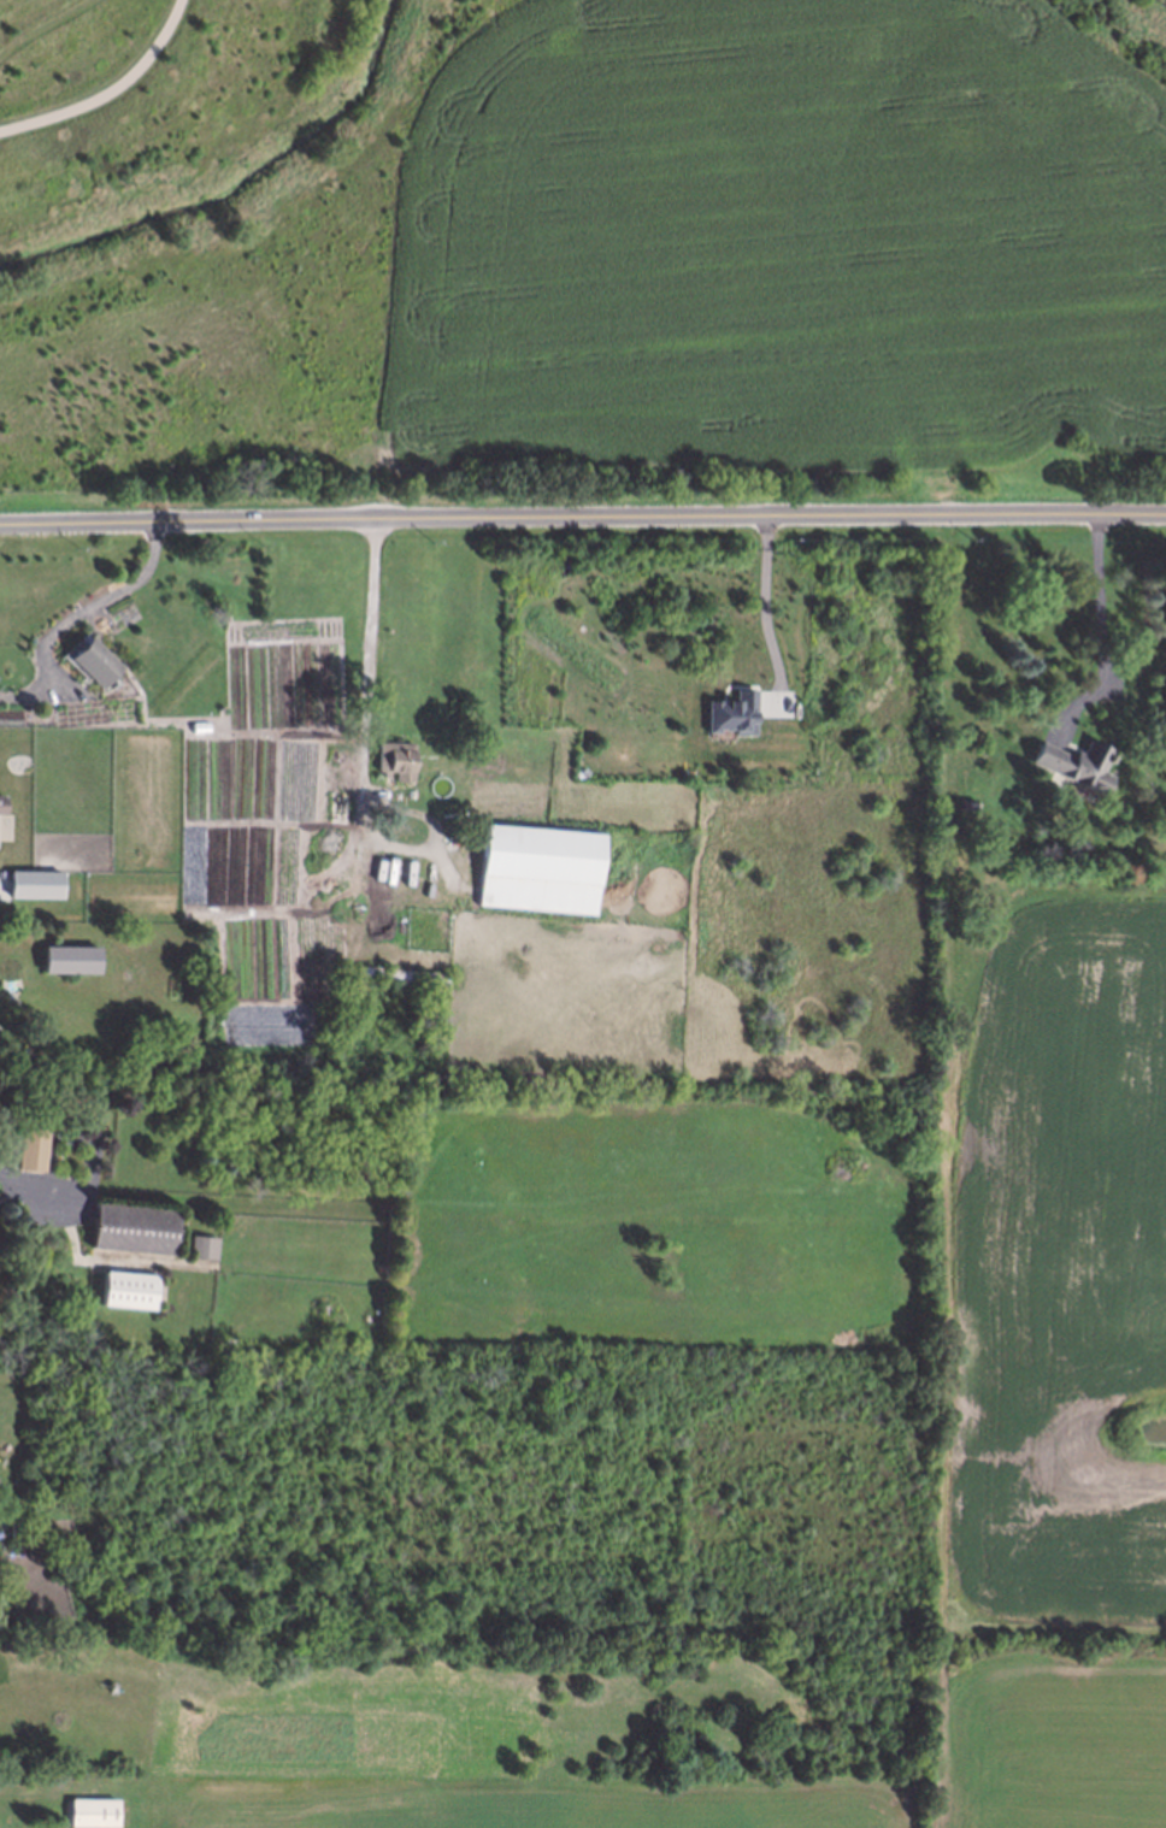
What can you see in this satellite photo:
road: (101, 81)
road: (541, 82)
road: (582, 518)
road: (765, 607)
road: (75, 614)
road: (1101, 632)
building: (96, 662)
building: (732, 713)
road: (363, 737)
building: (397, 760)
building: (1077, 765)
building: (2, 806)
building: (540, 869)
building: (36, 886)
building: (71, 961)
building: (35, 1150)
road: (30, 1184)
building: (136, 1230)
building: (205, 1249)
building: (130, 1291)
building: (94, 1814)

